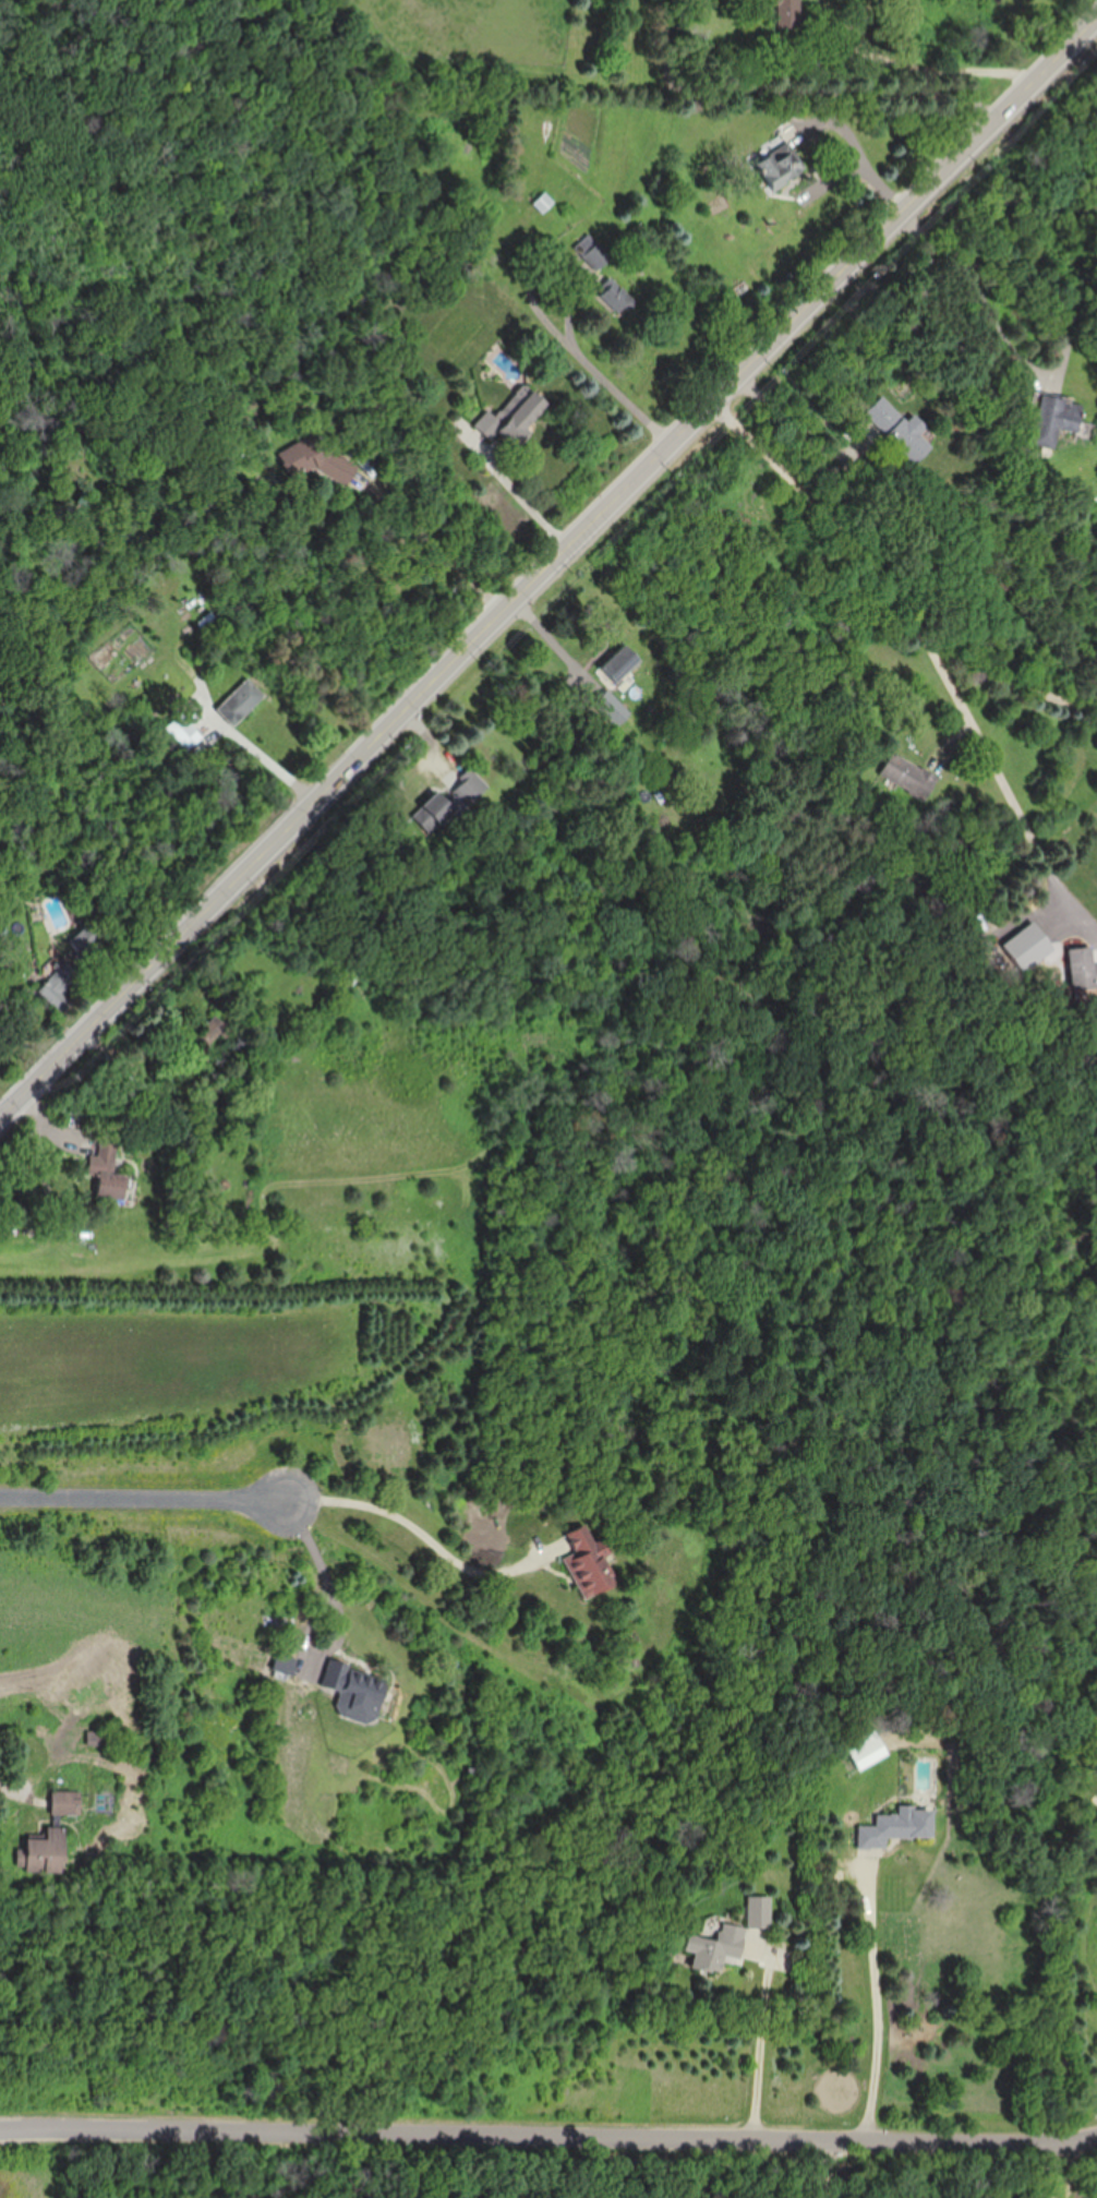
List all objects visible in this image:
building: (786, 14)
road: (807, 100)
building: (777, 161)
building: (543, 203)
road: (983, 301)
road: (613, 386)
building: (1061, 413)
building: (511, 417)
road: (809, 430)
building: (900, 430)
building: (326, 460)
road: (517, 493)
road: (434, 550)
road: (551, 570)
road: (937, 649)
building: (619, 665)
building: (239, 704)
building: (619, 714)
building: (182, 732)
road: (257, 760)
building: (908, 776)
building: (446, 803)
building: (83, 944)
building: (1082, 969)
building: (57, 986)
building: (213, 1041)
building: (106, 1174)
road: (148, 1502)
road: (406, 1528)
road: (321, 1552)
building: (584, 1566)
road: (339, 1641)
building: (287, 1662)
building: (357, 1692)
building: (866, 1750)
road: (17, 1788)
building: (67, 1802)
building: (896, 1827)
building: (47, 1851)
building: (758, 1915)
building: (714, 1947)
road: (881, 2005)
road: (769, 2044)
road: (548, 2139)
road: (1078, 2152)
road: (176, 2167)
road: (827, 2172)

